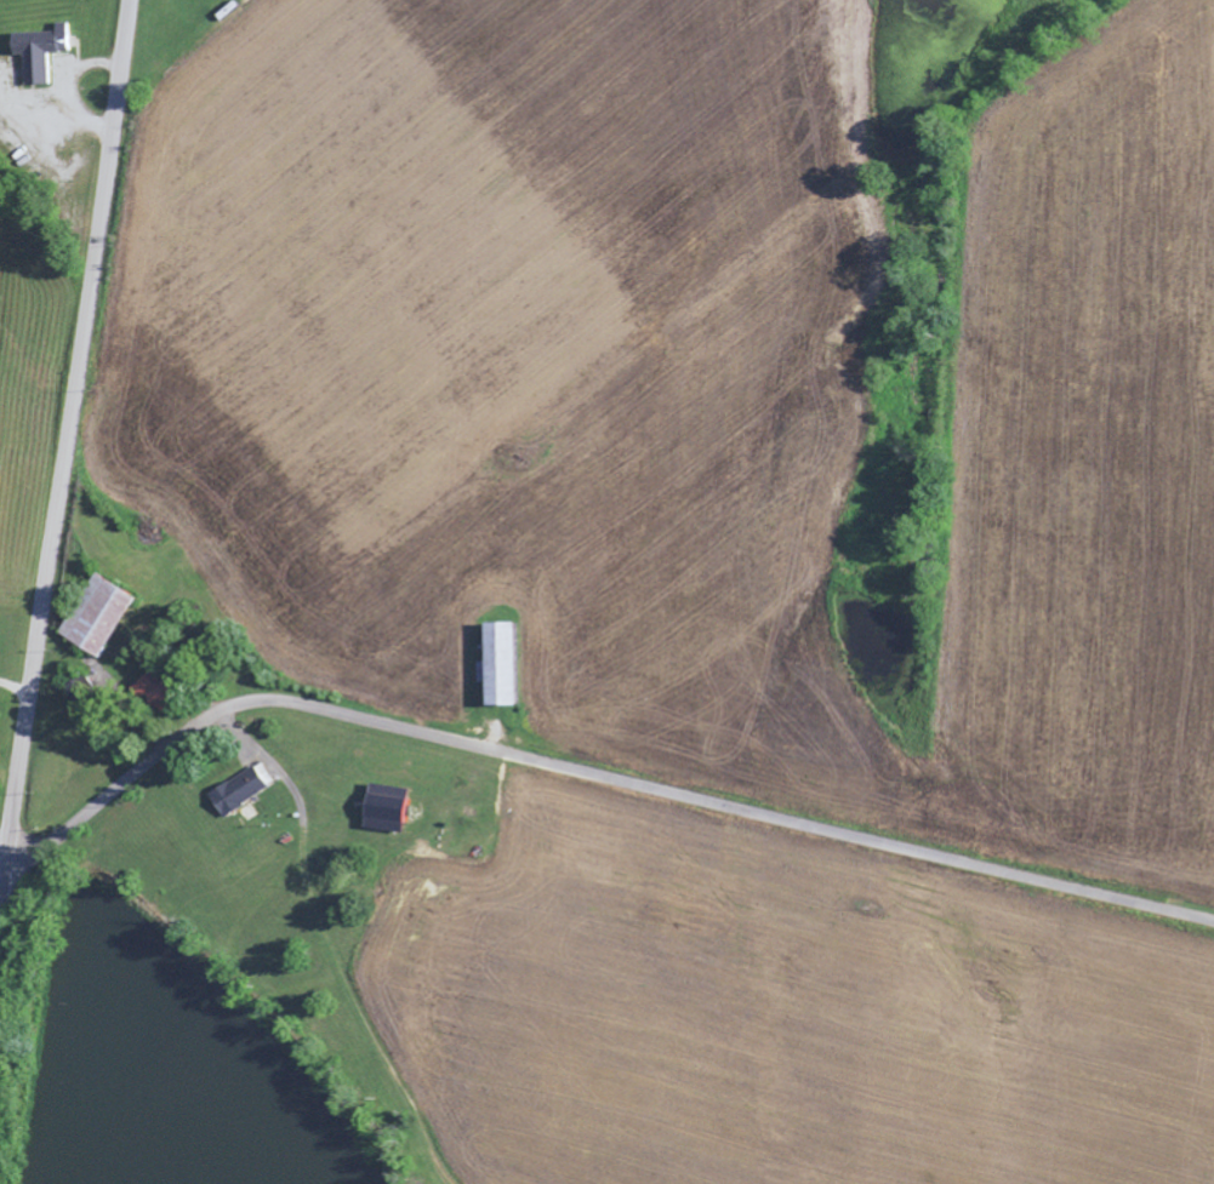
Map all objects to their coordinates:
building: (39, 50)
road: (65, 456)
building: (96, 616)
building: (496, 664)
road: (589, 773)
building: (241, 788)

